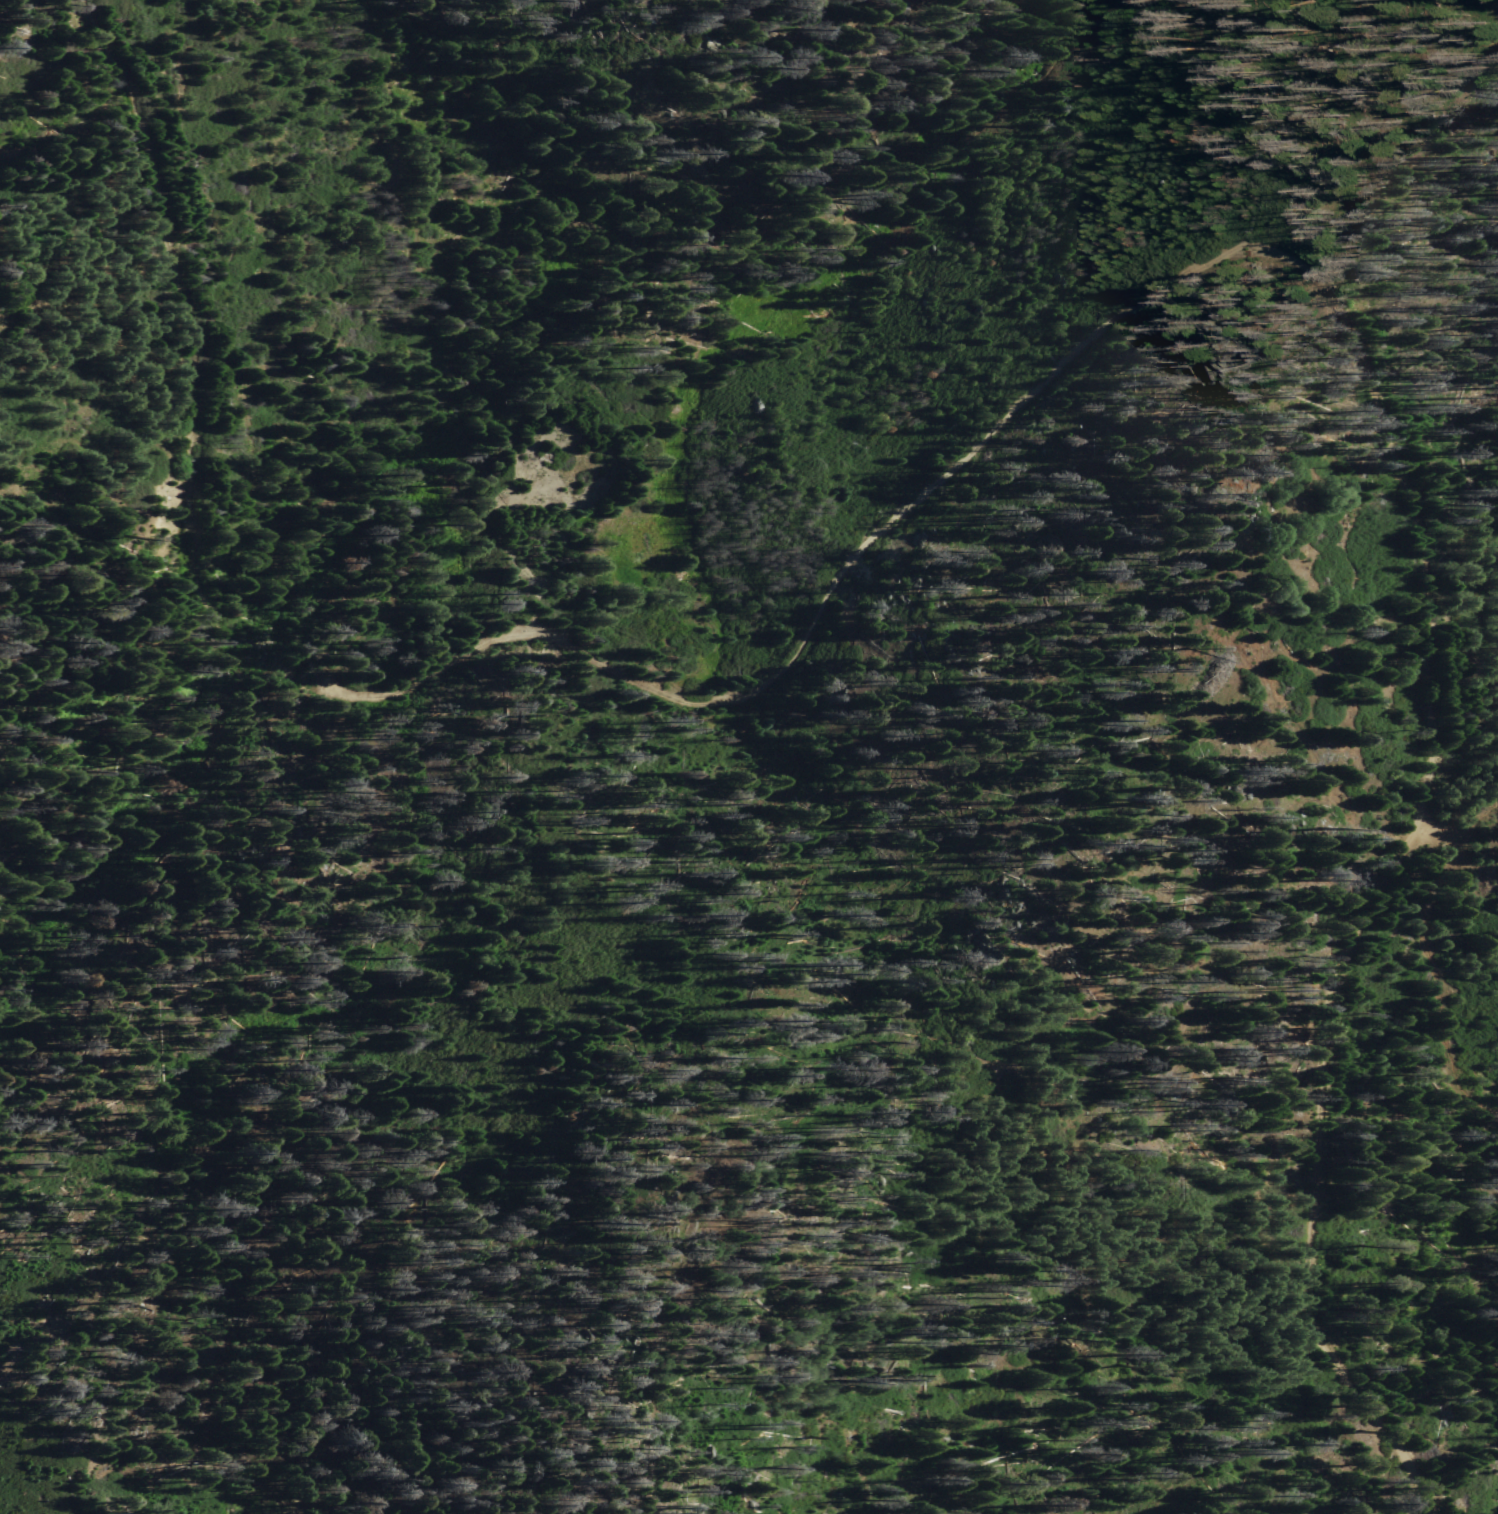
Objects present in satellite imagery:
road: (772, 220)
road: (1026, 393)

